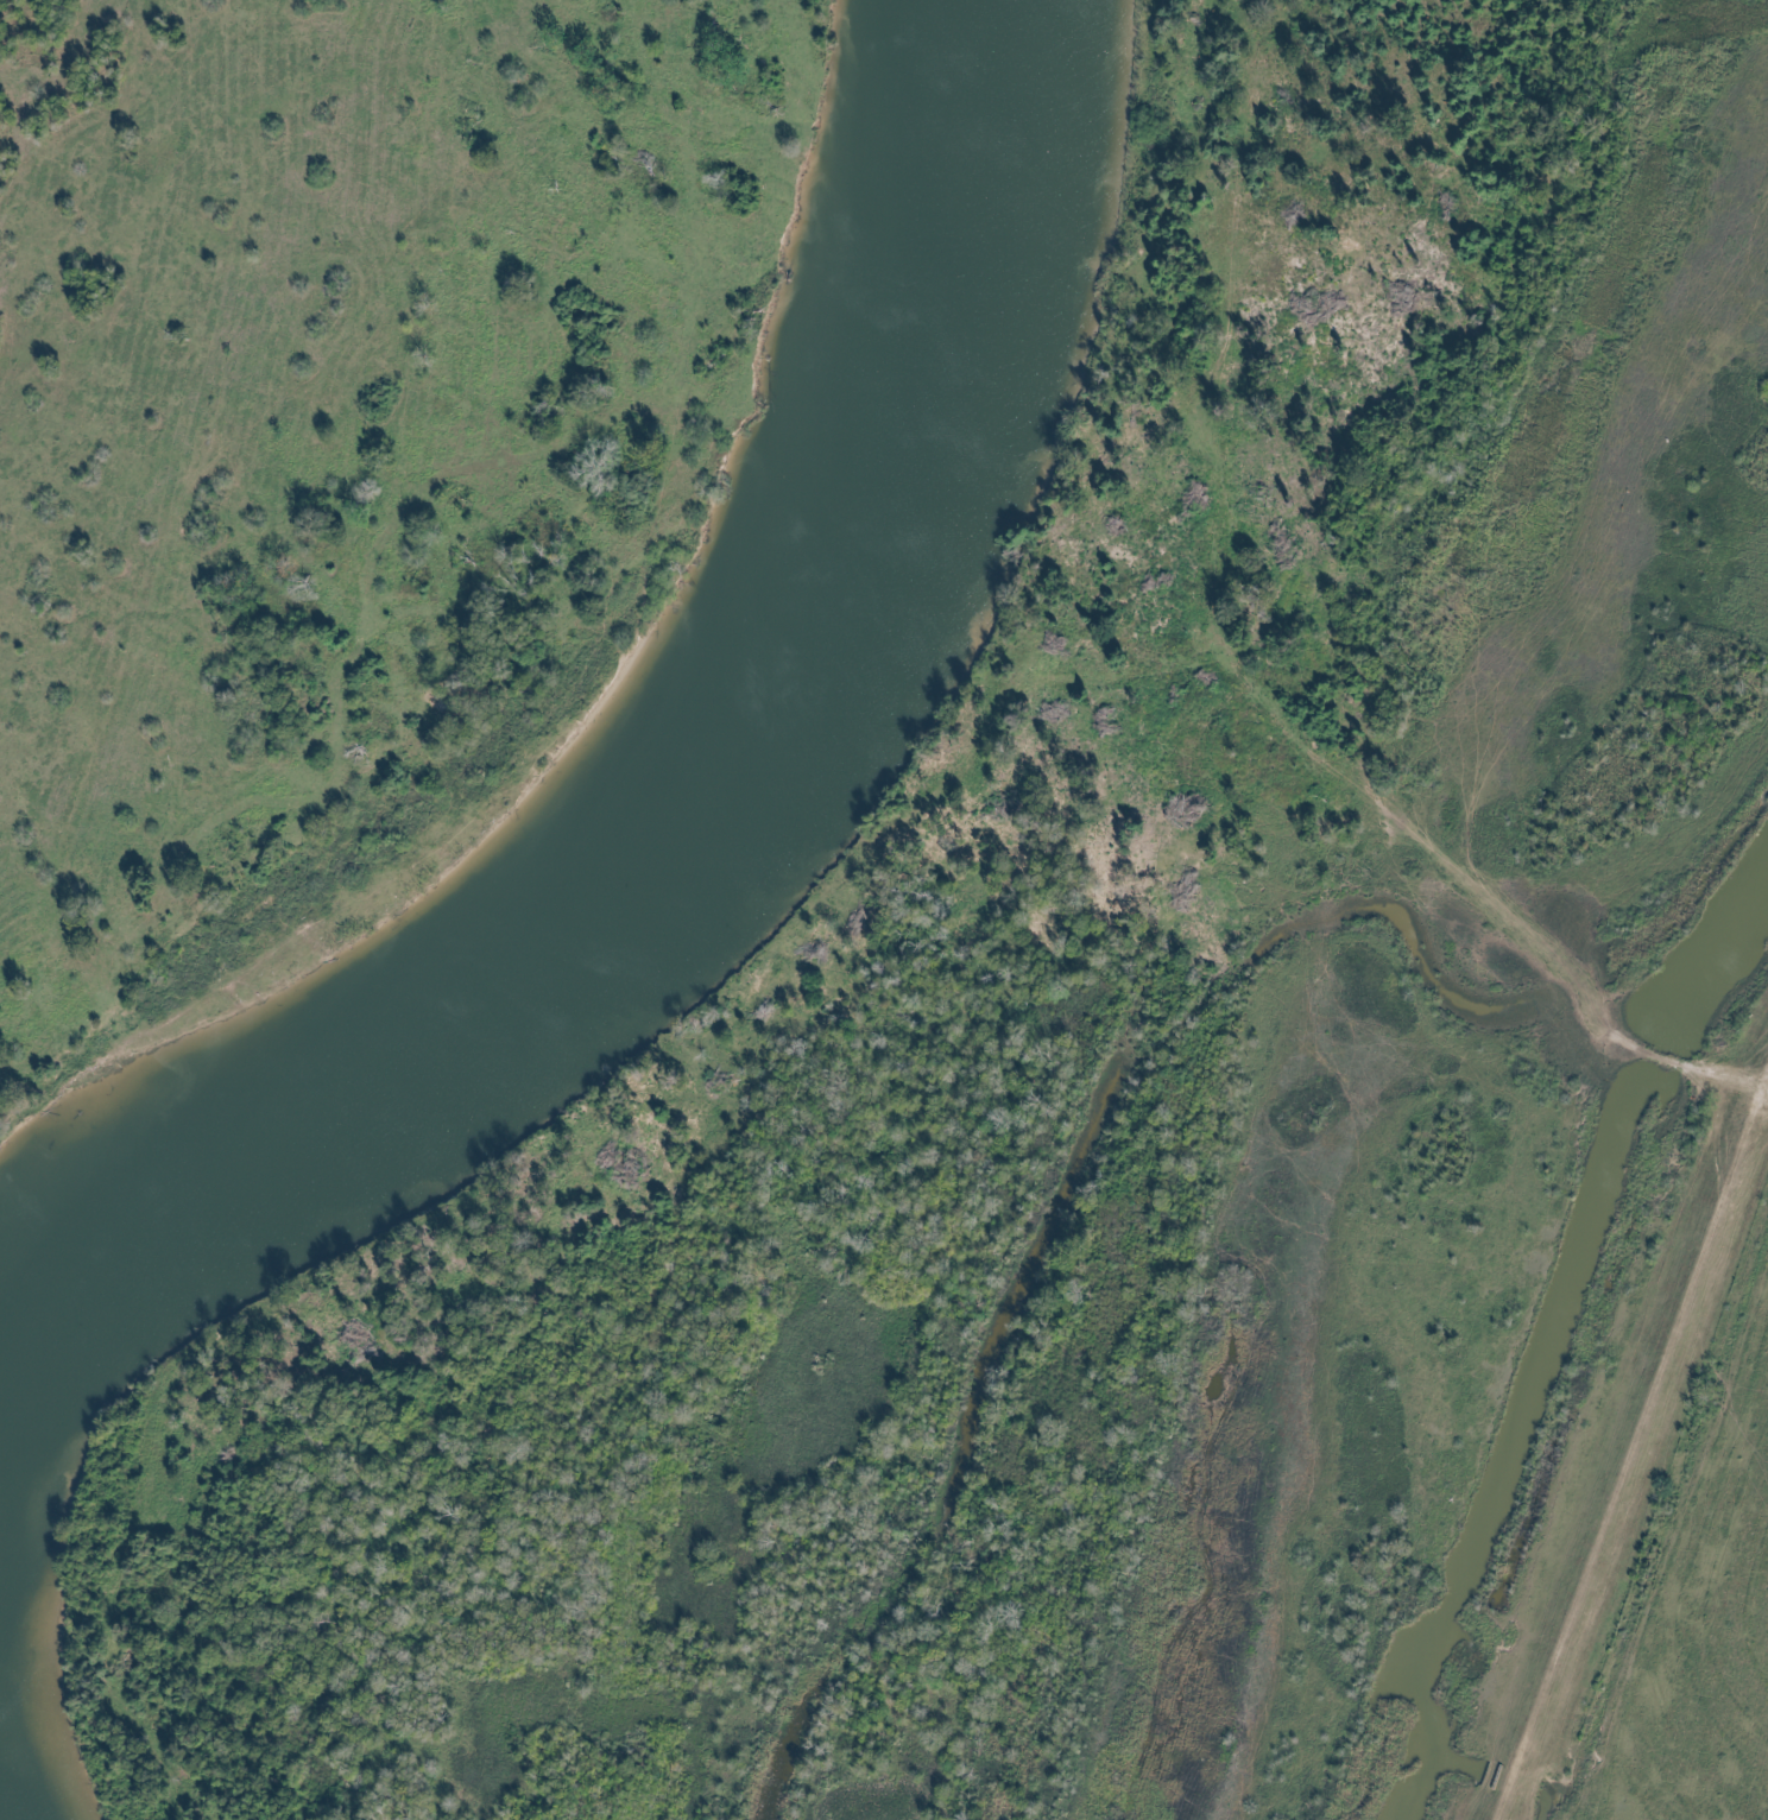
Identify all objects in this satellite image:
river: (696, 809)
road: (1489, 891)
road: (1640, 1443)
river: (6, 1807)

